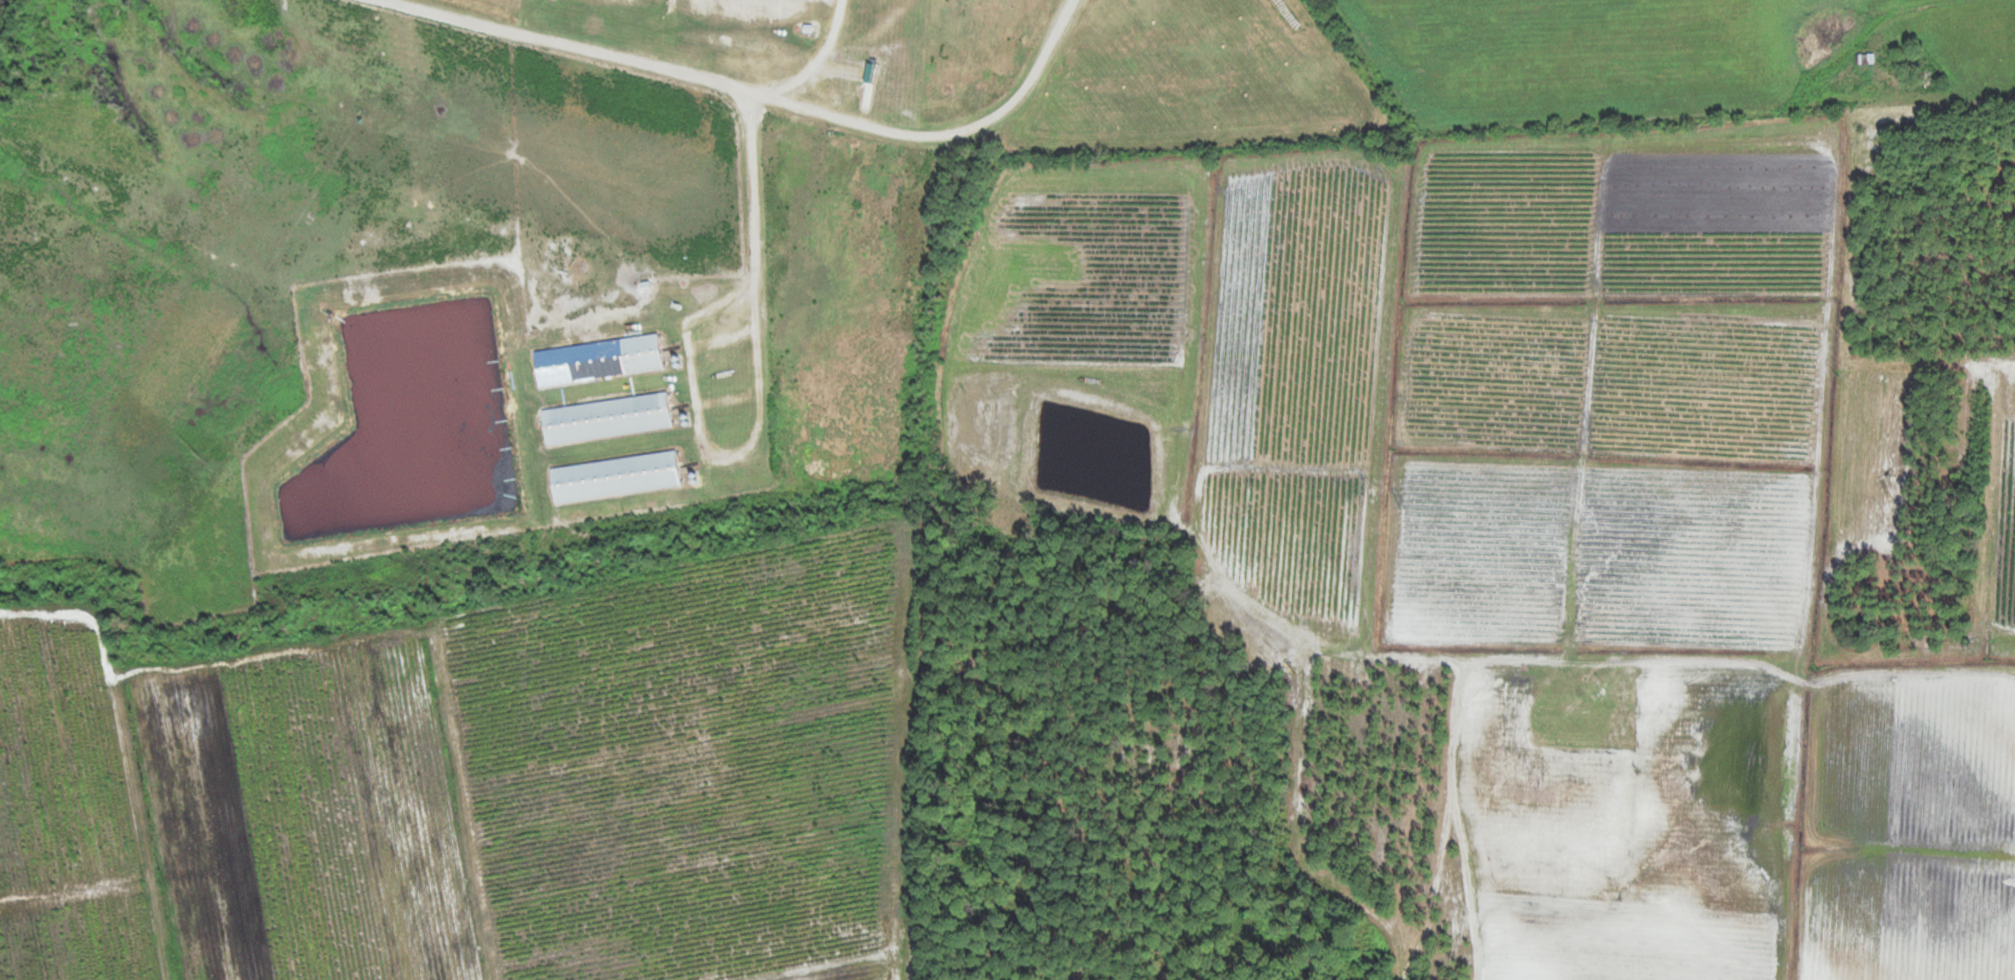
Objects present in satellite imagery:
building: (1865, 57)
road: (760, 94)
road: (759, 271)
building: (595, 360)
building: (604, 418)
building: (612, 477)
road: (912, 556)

